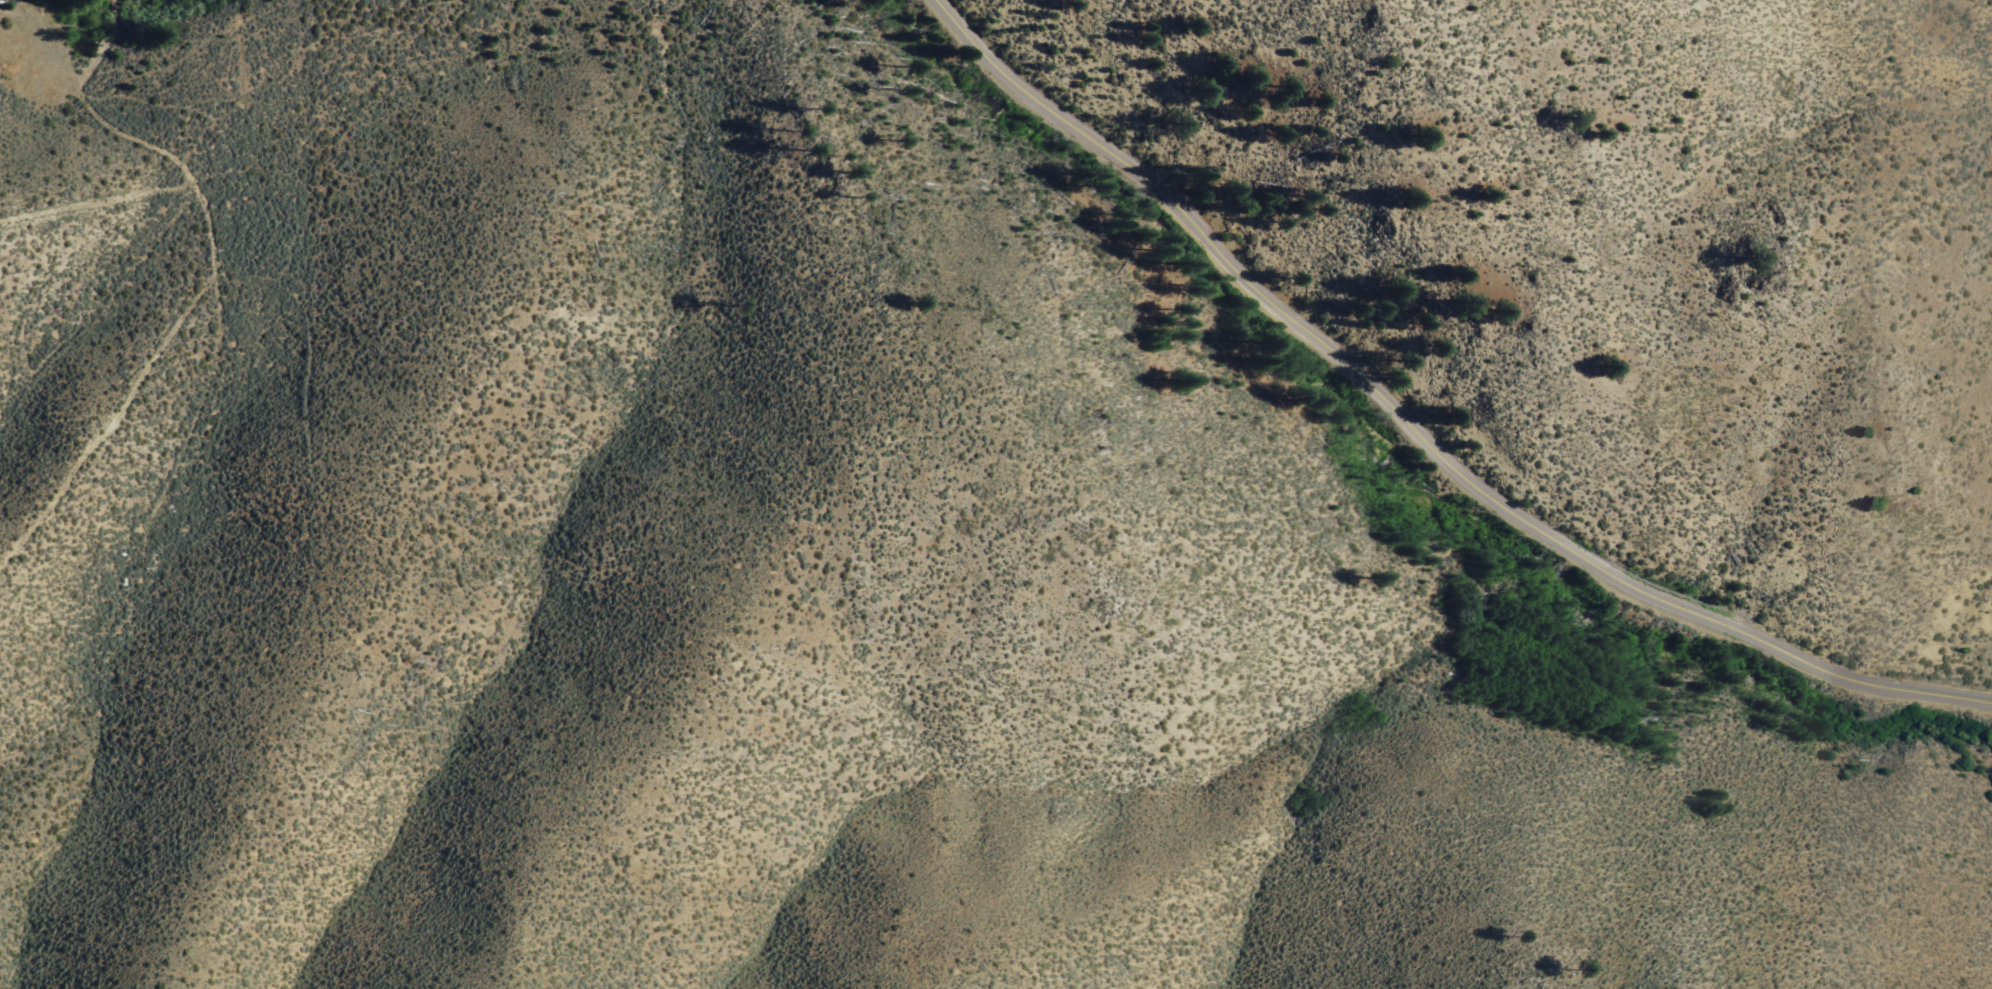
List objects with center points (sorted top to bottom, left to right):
road: (196, 271)
road: (1414, 432)

